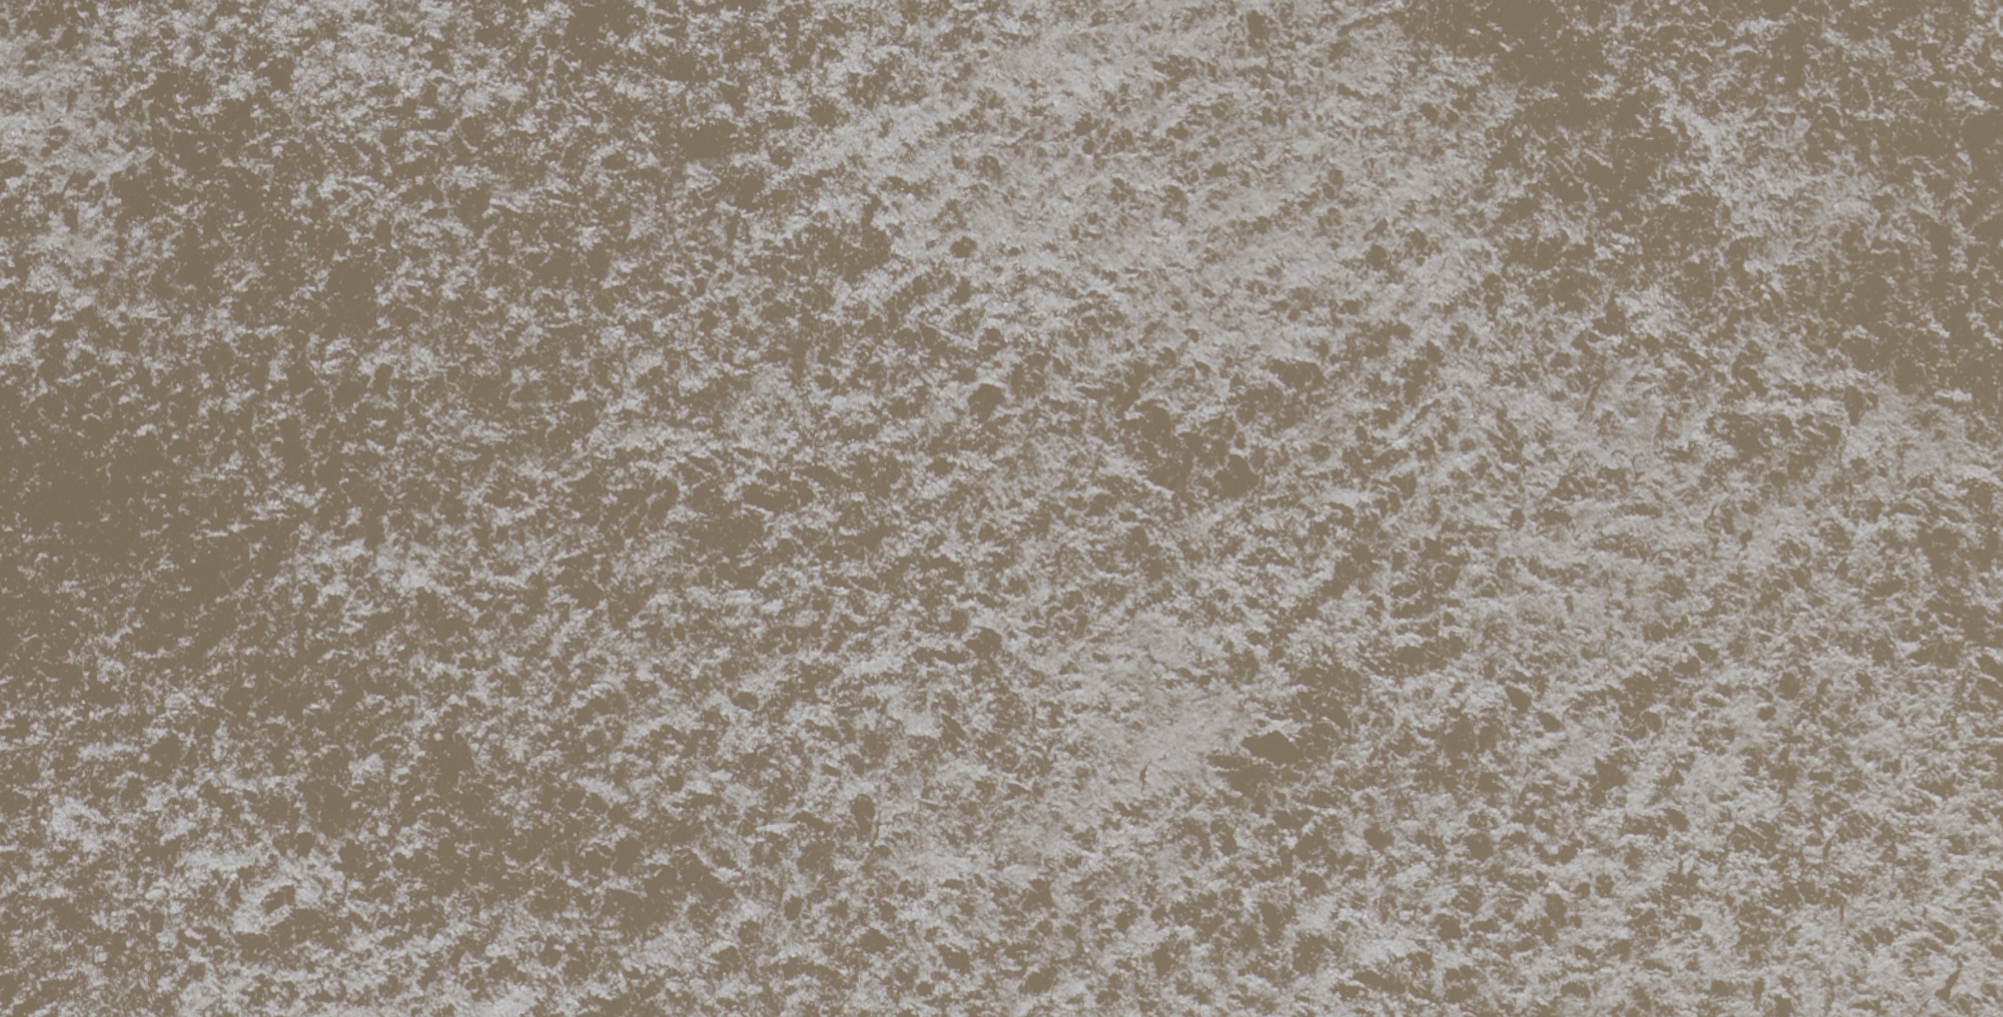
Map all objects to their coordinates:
river: (1875, 907)

